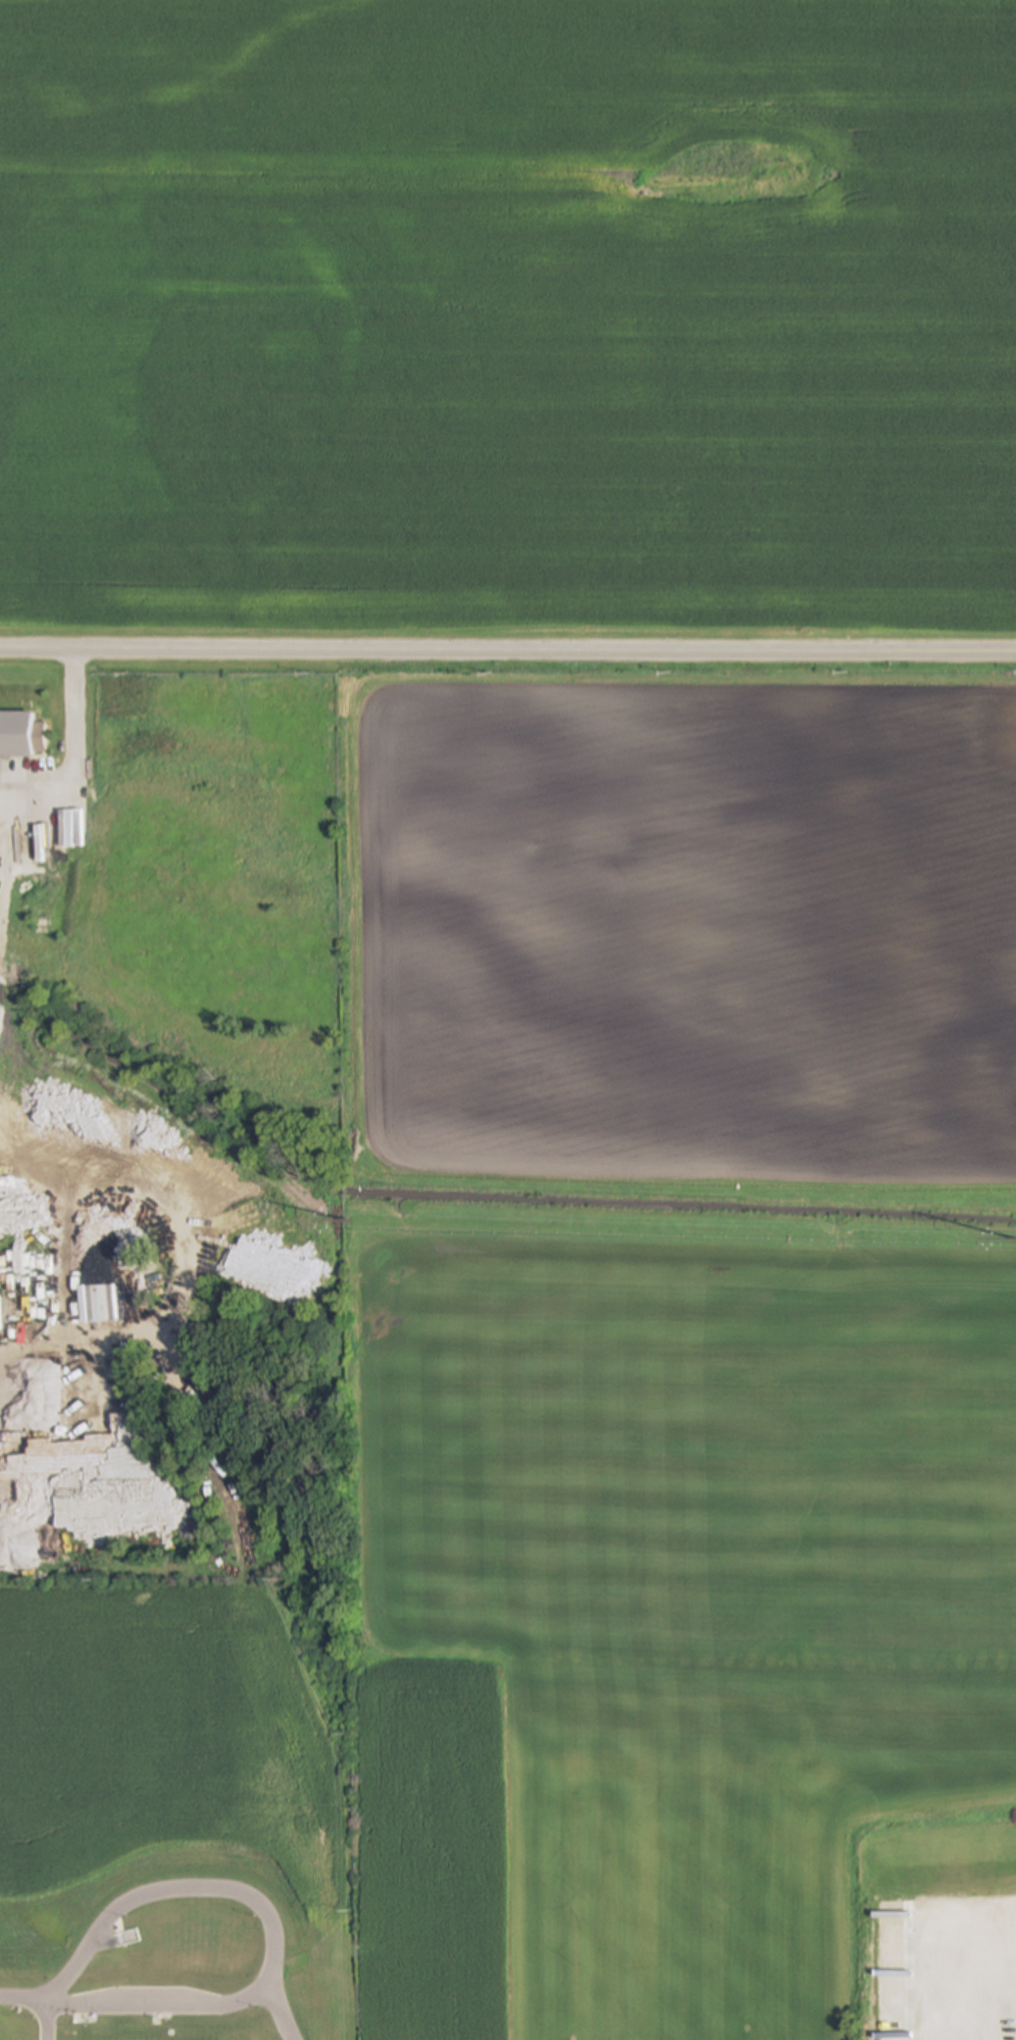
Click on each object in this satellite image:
road: (507, 653)
building: (21, 736)
road: (74, 755)
power tower: (346, 1221)
road: (2, 1378)
road: (956, 1963)
road: (35, 2008)
wastewater plant: (174, 2016)

